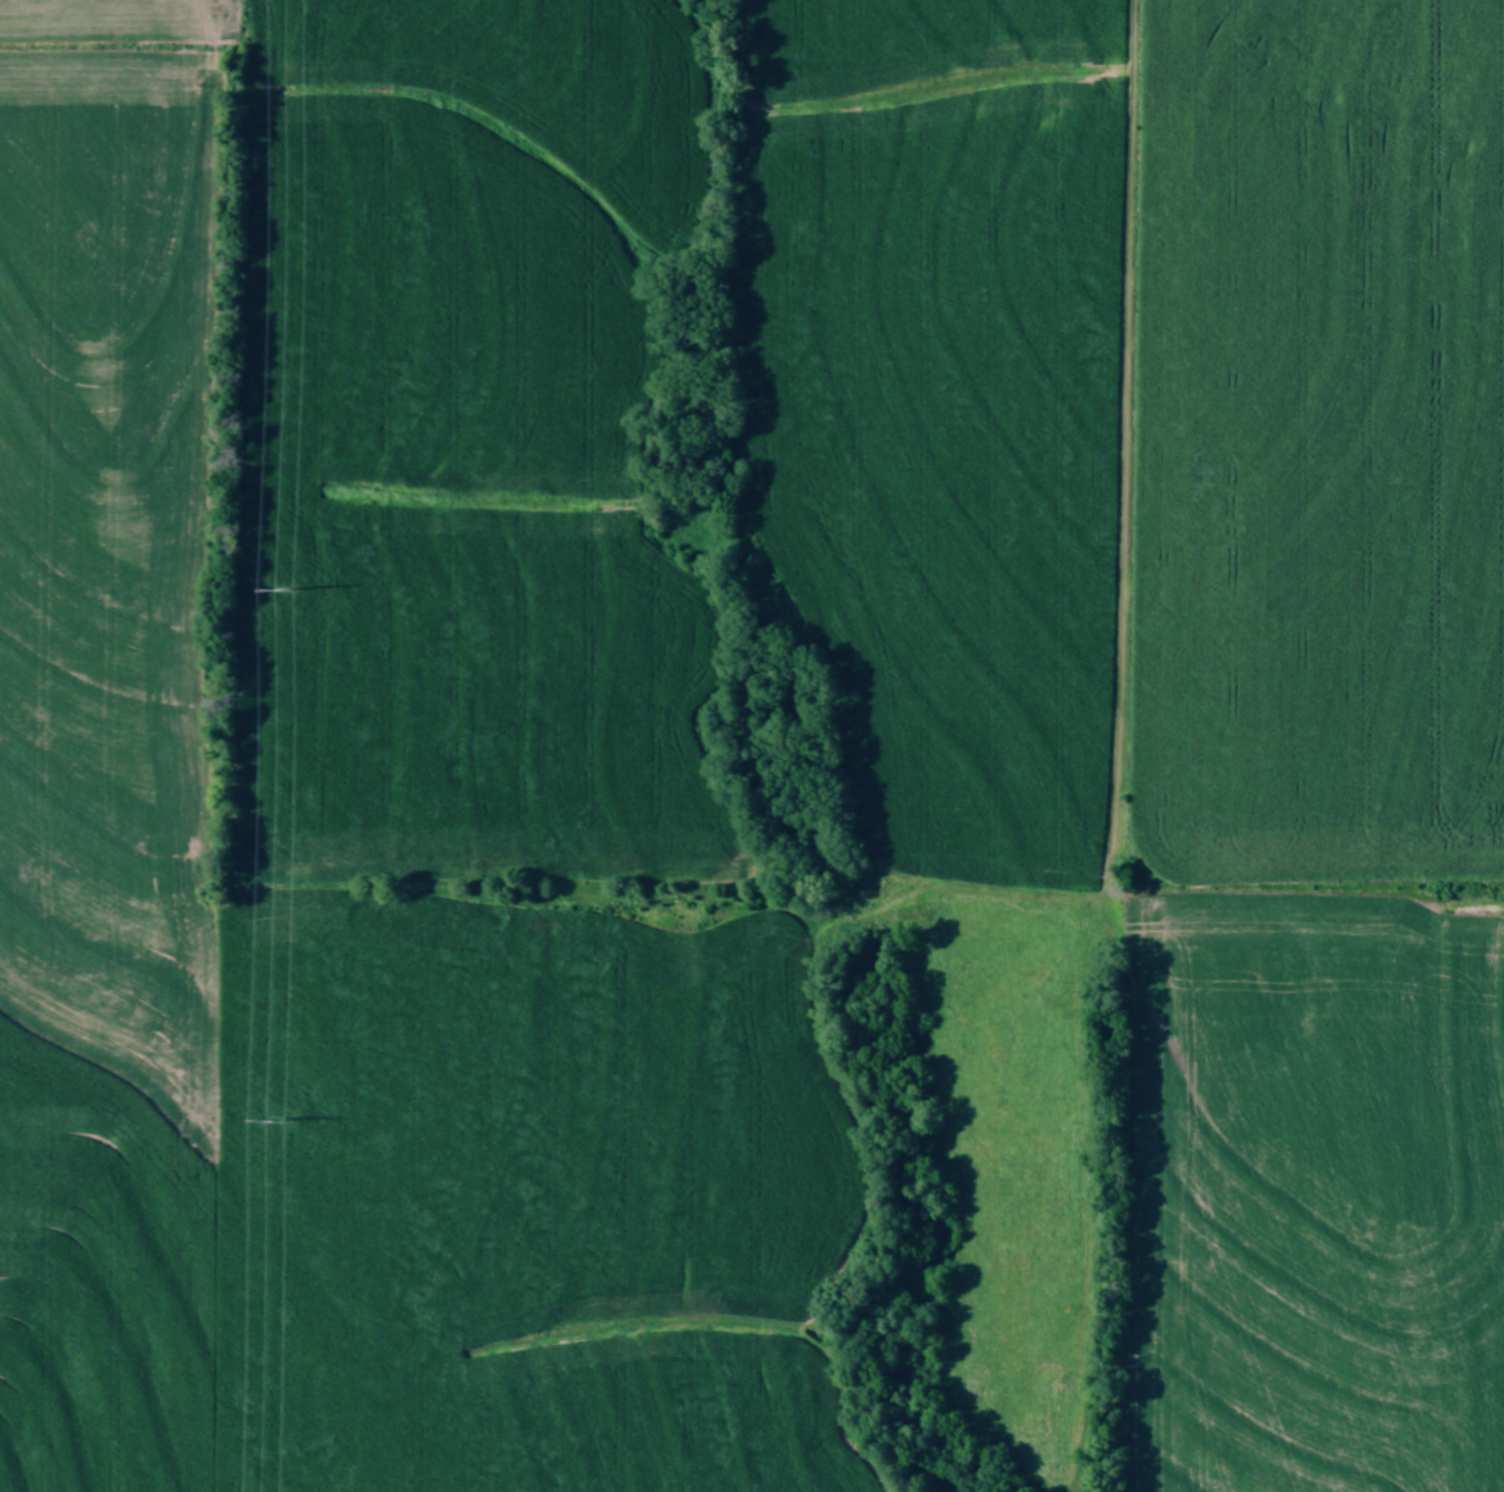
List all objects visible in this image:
power tower: (285, 587)
power tower: (272, 1119)

